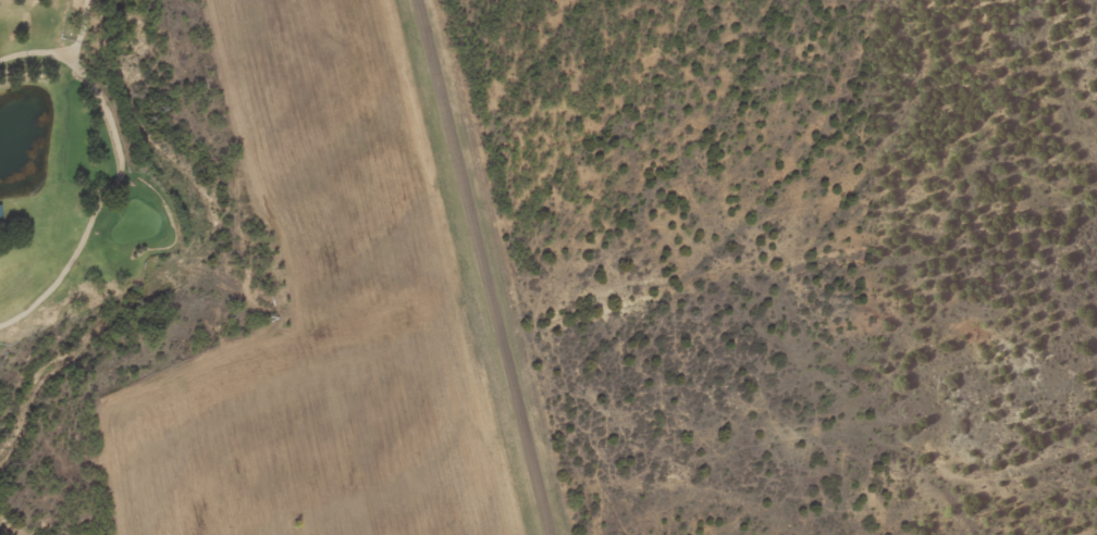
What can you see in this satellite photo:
road: (492, 267)

